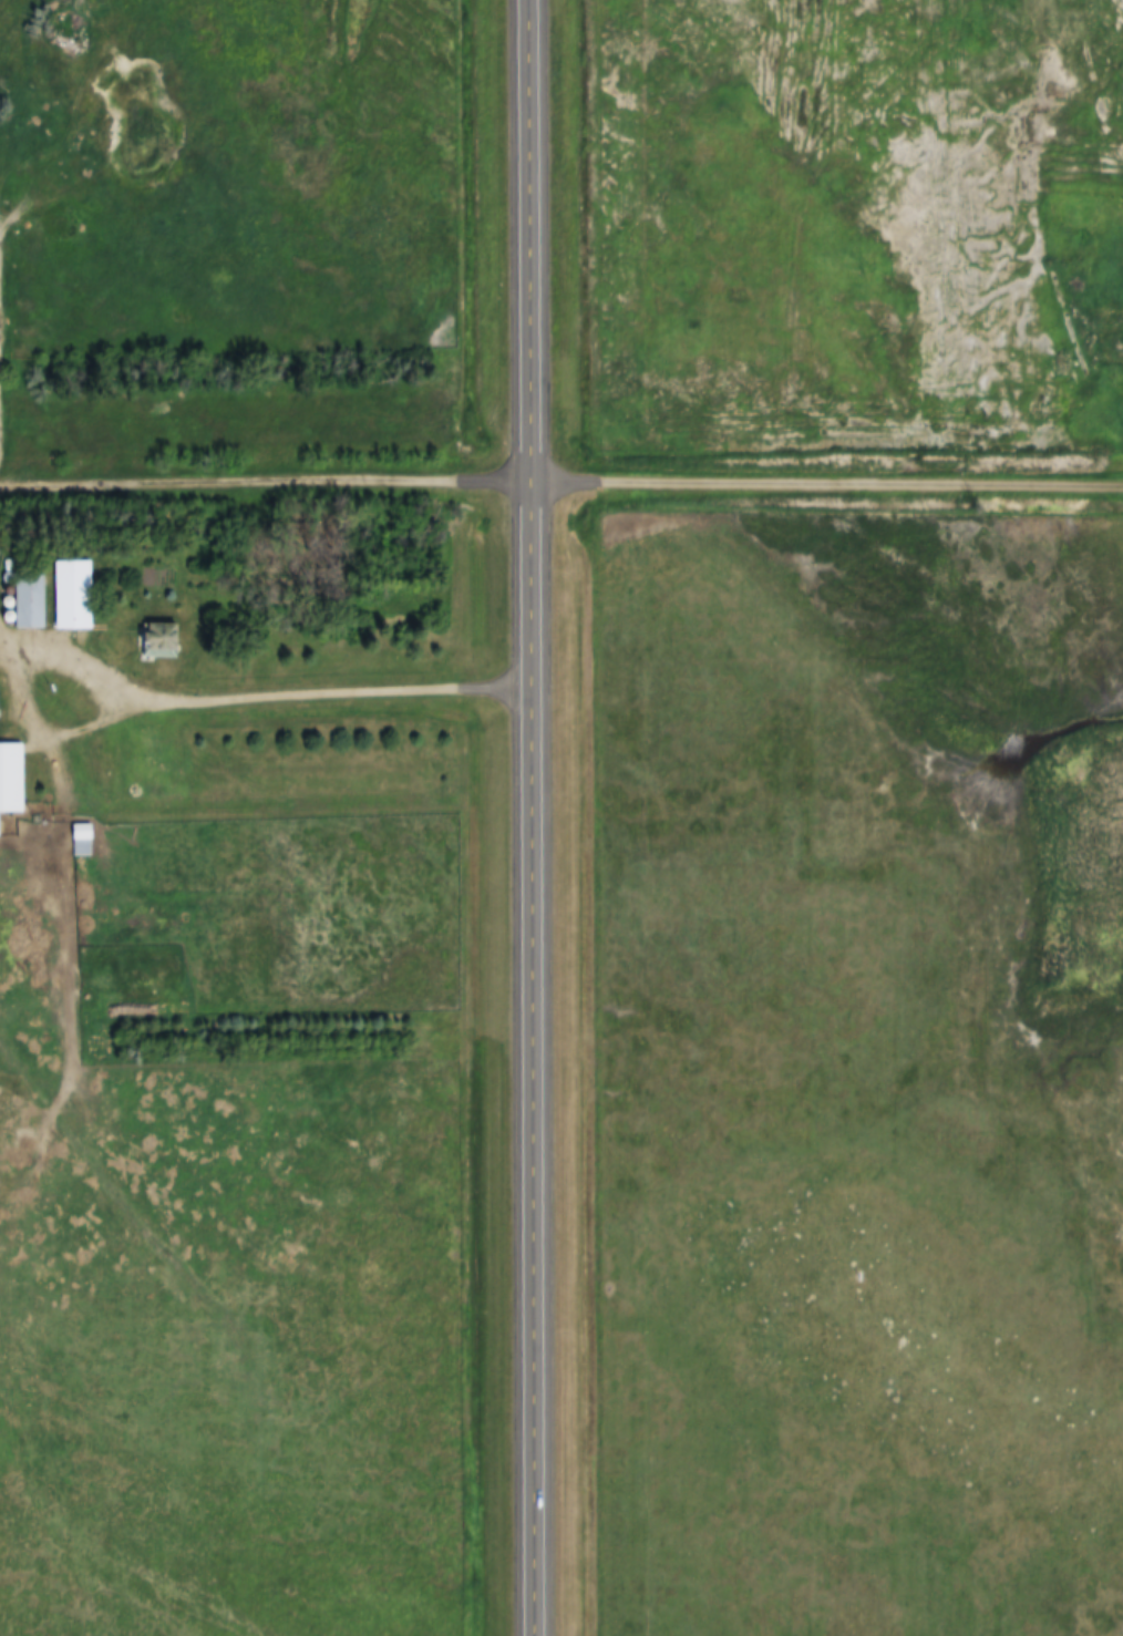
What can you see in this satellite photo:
road: (6, 342)
road: (272, 483)
road: (834, 484)
building: (35, 601)
building: (165, 639)
road: (234, 692)
building: (0, 701)
building: (13, 781)
road: (547, 817)
building: (85, 841)

